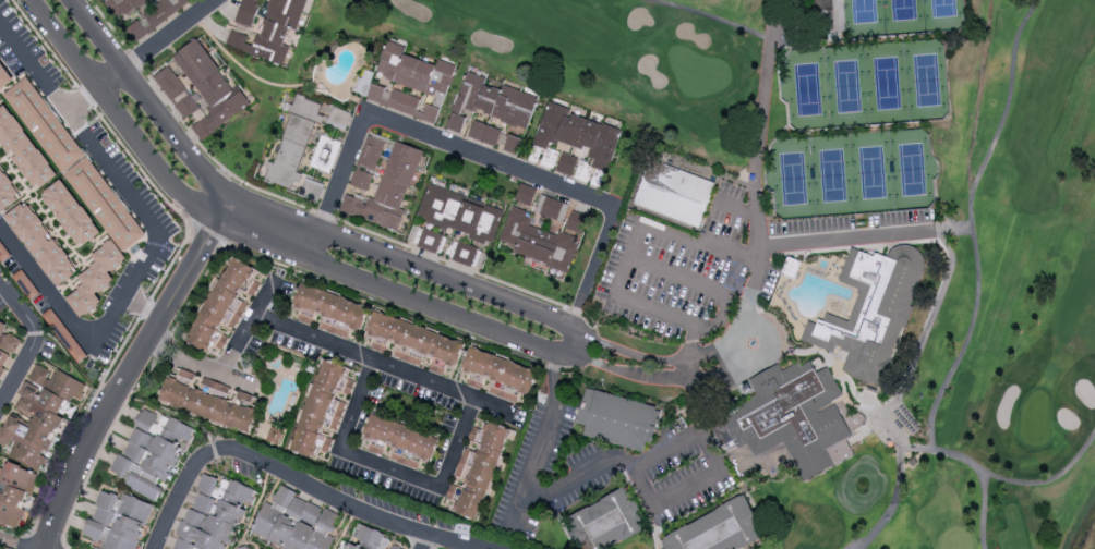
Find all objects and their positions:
building: (120, 5)
building: (826, 9)
road: (712, 16)
building: (154, 17)
building: (265, 27)
road: (156, 45)
park: (604, 56)
road: (34, 68)
building: (4, 78)
building: (409, 83)
road: (87, 97)
building: (490, 102)
park: (865, 113)
building: (483, 132)
building: (577, 134)
building: (293, 143)
building: (510, 143)
building: (23, 149)
building: (325, 154)
road: (474, 156)
building: (368, 160)
road: (756, 160)
building: (74, 163)
building: (566, 163)
building: (311, 188)
building: (387, 188)
building: (5, 193)
building: (673, 193)
building: (525, 194)
road: (131, 196)
road: (738, 205)
building: (552, 208)
building: (70, 212)
building: (459, 213)
building: (576, 222)
road: (971, 222)
building: (429, 239)
road: (851, 239)
building: (538, 241)
building: (41, 243)
building: (464, 253)
building: (3, 254)
building: (790, 267)
building: (96, 278)
parking lot: (664, 279)
road: (691, 280)
building: (25, 284)
building: (225, 305)
building: (328, 310)
building: (871, 310)
road: (74, 326)
road: (245, 329)
road: (735, 329)
park: (996, 329)
road: (33, 342)
building: (414, 342)
building: (7, 345)
road: (564, 354)
road: (654, 361)
road: (382, 362)
road: (200, 365)
road: (131, 370)
building: (498, 375)
road: (657, 379)
road: (690, 380)
road: (847, 380)
building: (207, 400)
building: (322, 408)
building: (793, 414)
building: (38, 415)
building: (617, 419)
building: (400, 441)
road: (545, 443)
building: (152, 453)
road: (952, 454)
road: (389, 467)
building: (477, 467)
building: (13, 492)
road: (329, 497)
road: (663, 504)
road: (983, 510)
road: (172, 512)
building: (213, 514)
building: (117, 521)
building: (294, 522)
building: (604, 522)
building: (717, 529)
building: (368, 539)
road: (424, 542)
road: (8, 546)

